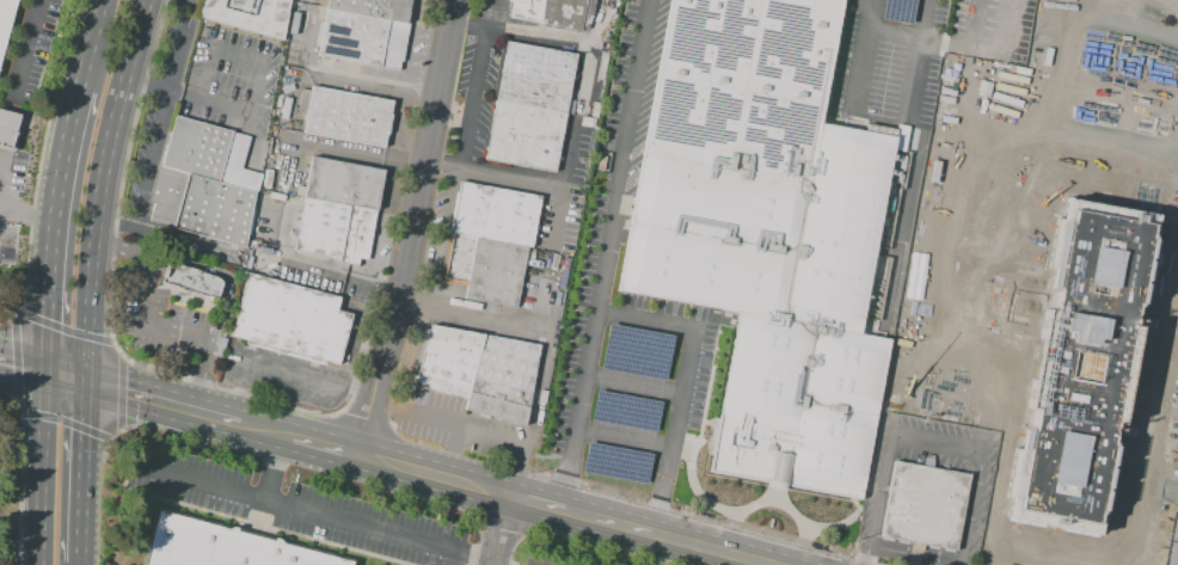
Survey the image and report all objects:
road: (1124, 1)
road: (870, 2)
road: (872, 2)
road: (1158, 7)
building: (897, 10)
building: (554, 12)
road: (491, 14)
building: (247, 16)
road: (870, 17)
building: (5, 19)
building: (1121, 20)
building: (364, 32)
road: (519, 33)
road: (894, 33)
road: (100, 47)
road: (26, 51)
road: (221, 59)
road: (1113, 61)
road: (178, 62)
road: (859, 68)
road: (915, 69)
road: (996, 69)
road: (968, 70)
road: (1142, 70)
road: (407, 73)
road: (376, 81)
road: (1081, 81)
road: (149, 87)
road: (472, 98)
road: (829, 99)
building: (529, 106)
road: (235, 110)
building: (992, 112)
building: (349, 115)
road: (572, 121)
building: (8, 129)
road: (1100, 129)
road: (1125, 134)
building: (1135, 141)
road: (982, 149)
road: (1097, 149)
road: (343, 154)
road: (1048, 159)
road: (154, 160)
road: (1008, 160)
road: (989, 165)
road: (409, 167)
road: (1093, 170)
road: (491, 173)
road: (1005, 177)
road: (392, 179)
road: (5, 180)
building: (204, 182)
road: (1091, 186)
road: (108, 190)
road: (1096, 195)
road: (401, 198)
road: (1177, 209)
building: (338, 210)
road: (628, 211)
road: (32, 217)
road: (939, 226)
road: (410, 228)
road: (901, 229)
road: (63, 231)
building: (950, 231)
building: (766, 232)
road: (172, 237)
road: (440, 237)
road: (378, 240)
road: (999, 240)
building: (490, 242)
road: (879, 242)
road: (1023, 245)
road: (964, 251)
road: (605, 254)
road: (333, 278)
building: (190, 280)
road: (969, 301)
road: (148, 302)
road: (994, 308)
road: (953, 311)
road: (890, 312)
road: (1018, 313)
road: (471, 317)
road: (550, 319)
building: (292, 320)
road: (1005, 321)
road: (949, 323)
road: (978, 325)
road: (213, 345)
road: (914, 345)
building: (636, 351)
road: (358, 352)
road: (1023, 352)
road: (1014, 354)
building: (1079, 363)
road: (25, 364)
road: (711, 369)
traffic signals: (50, 371)
building: (479, 371)
road: (282, 374)
road: (69, 377)
road: (634, 379)
road: (995, 379)
road: (957, 383)
traffic signals: (90, 385)
road: (685, 386)
road: (164, 403)
building: (625, 411)
road: (338, 413)
road: (532, 414)
road: (399, 417)
road: (363, 420)
road: (877, 424)
road: (700, 426)
road: (1123, 429)
road: (264, 430)
road: (470, 430)
road: (695, 440)
road: (624, 441)
road: (926, 444)
road: (324, 447)
road: (450, 453)
building: (615, 462)
road: (45, 468)
road: (275, 468)
road: (86, 474)
road: (429, 475)
road: (1140, 483)
flagpole: (282, 485)
road: (771, 493)
building: (924, 505)
road: (1167, 508)
road: (318, 514)
road: (710, 516)
road: (731, 517)
building: (1023, 524)
road: (497, 529)
road: (637, 530)
building: (1102, 530)
road: (805, 534)
road: (1048, 536)
building: (222, 545)
road: (1045, 554)
road: (755, 563)
road: (496, 564)

